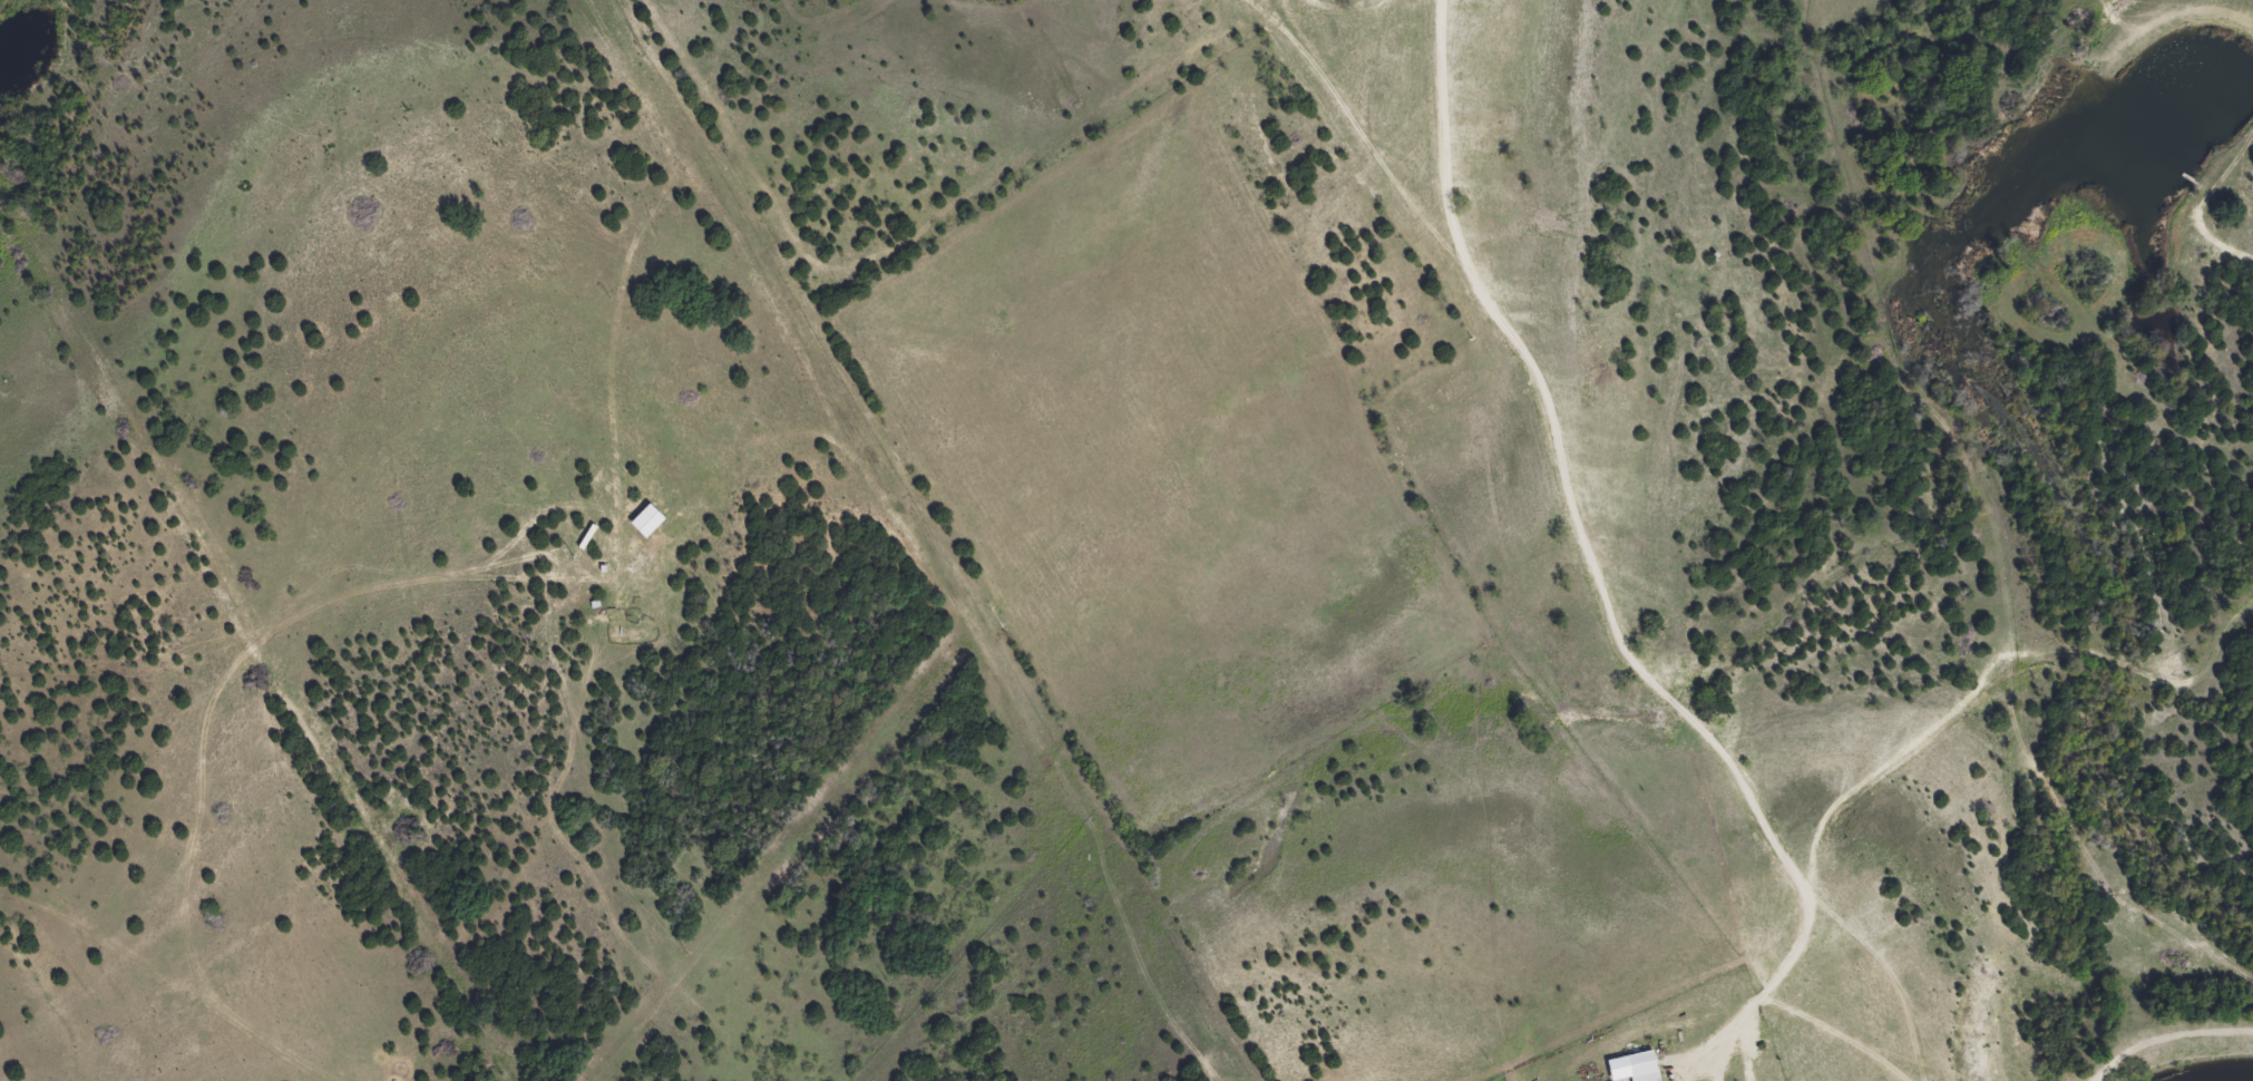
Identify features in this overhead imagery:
building: (1640, 1061)

